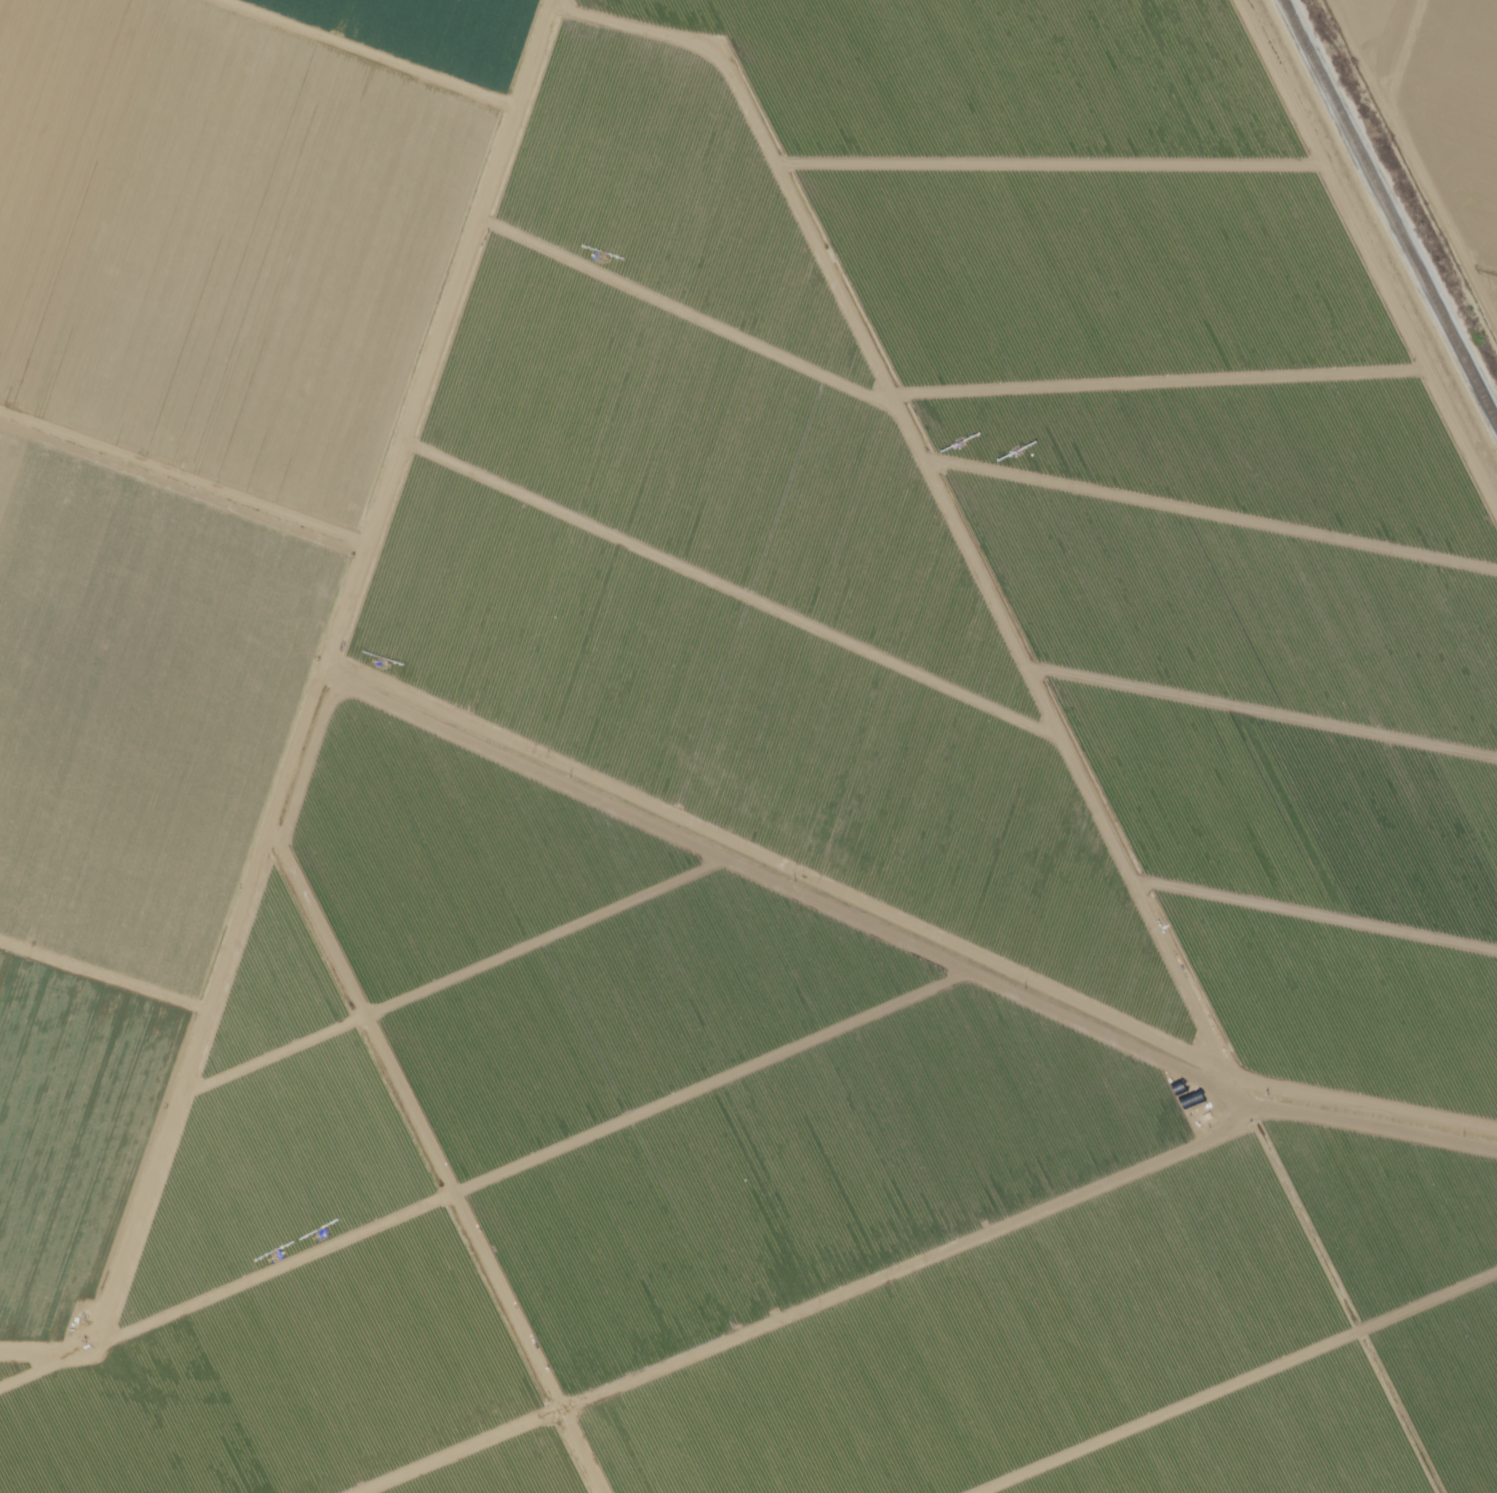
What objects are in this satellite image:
crop: (1377, 29)
crop: (432, 35)
crop: (1452, 99)
crop: (1069, 154)
railway: (1389, 212)
crop: (227, 240)
crop: (1483, 250)
crop: (1180, 412)
crop: (722, 544)
crop: (1241, 609)
crop: (143, 708)
crop: (1294, 806)
crop: (274, 947)
crop: (1343, 1000)
crop: (680, 1058)
road: (1362, 1114)
crop: (75, 1138)
crop: (277, 1156)
crop: (1131, 1345)
crop: (14, 1366)
crop: (284, 1382)
crop: (510, 1468)

